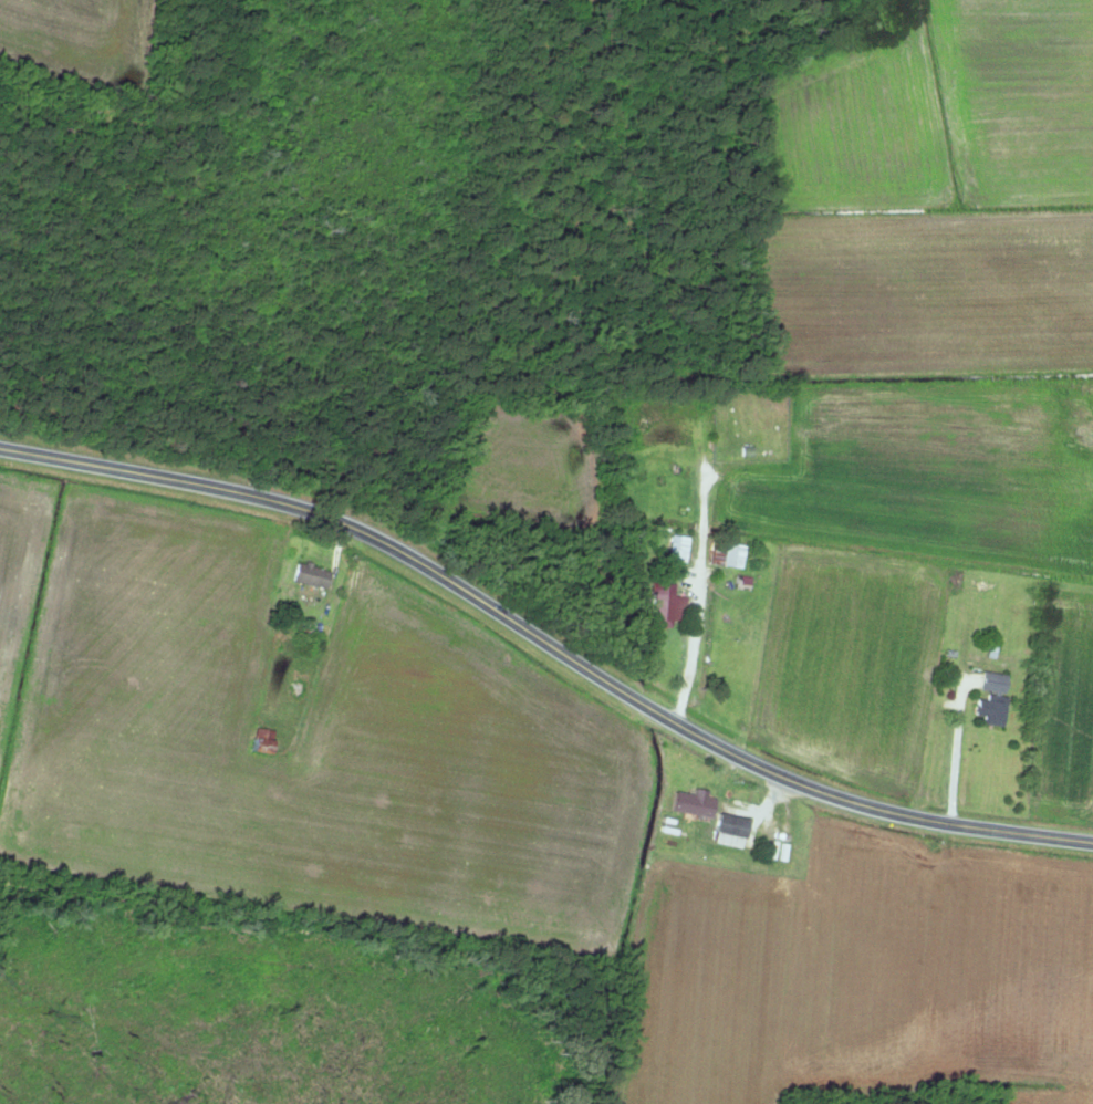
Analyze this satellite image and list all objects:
building: (677, 549)
building: (732, 555)
building: (310, 575)
building: (665, 603)
road: (548, 643)
building: (298, 687)
building: (991, 699)
building: (262, 740)
building: (693, 803)
building: (729, 831)

